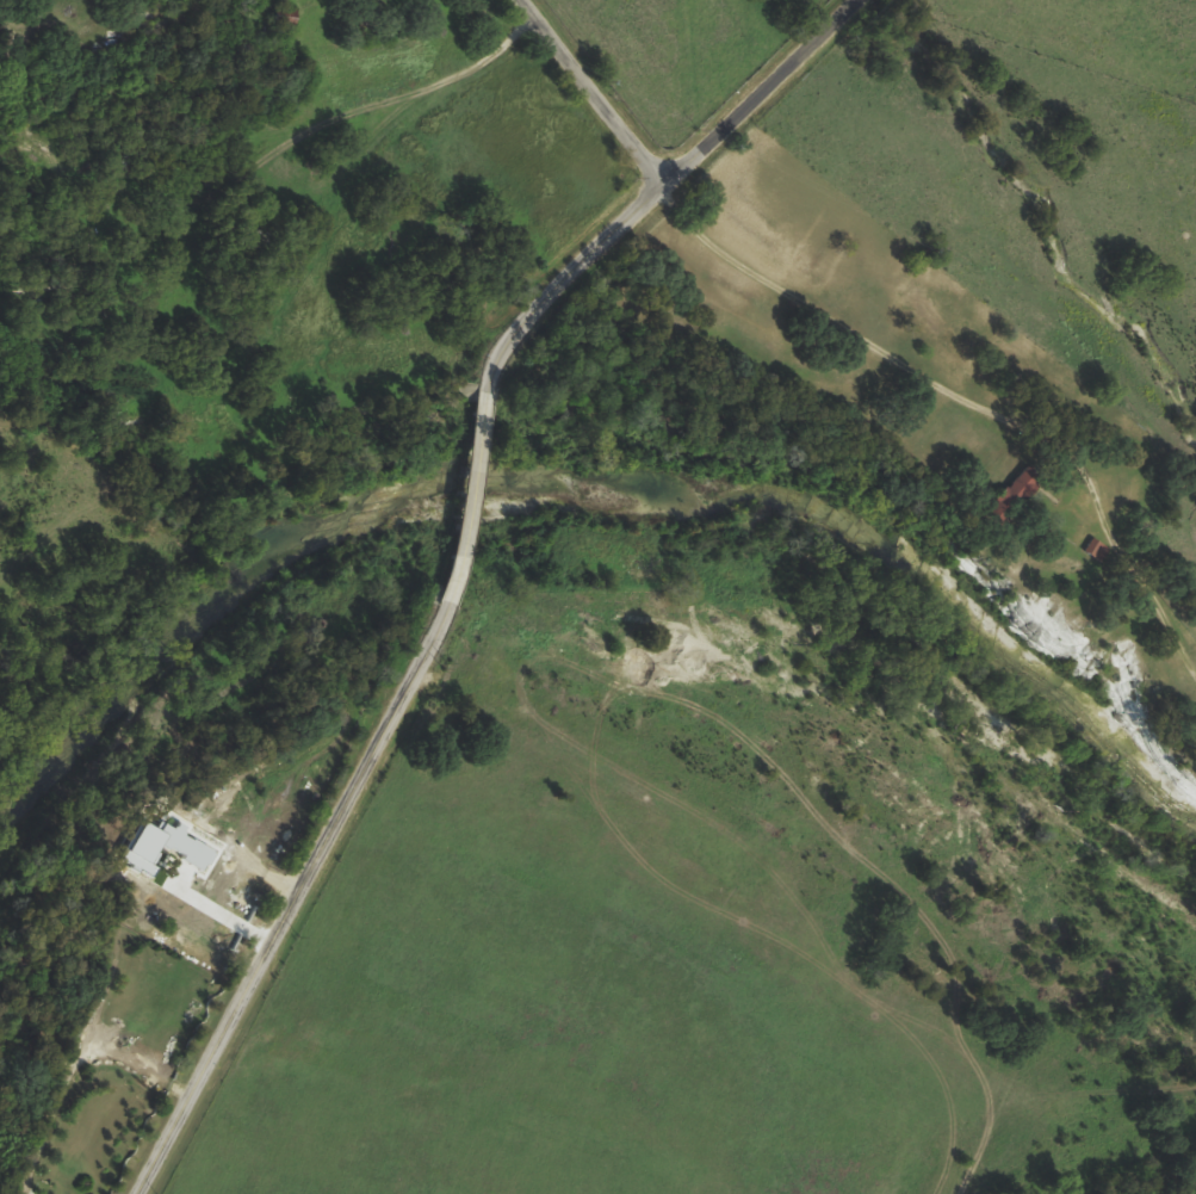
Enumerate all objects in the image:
road: (432, 86)
road: (591, 92)
road: (965, 402)
building: (1004, 496)
building: (1091, 550)
road: (461, 561)
building: (178, 846)
road: (249, 861)

